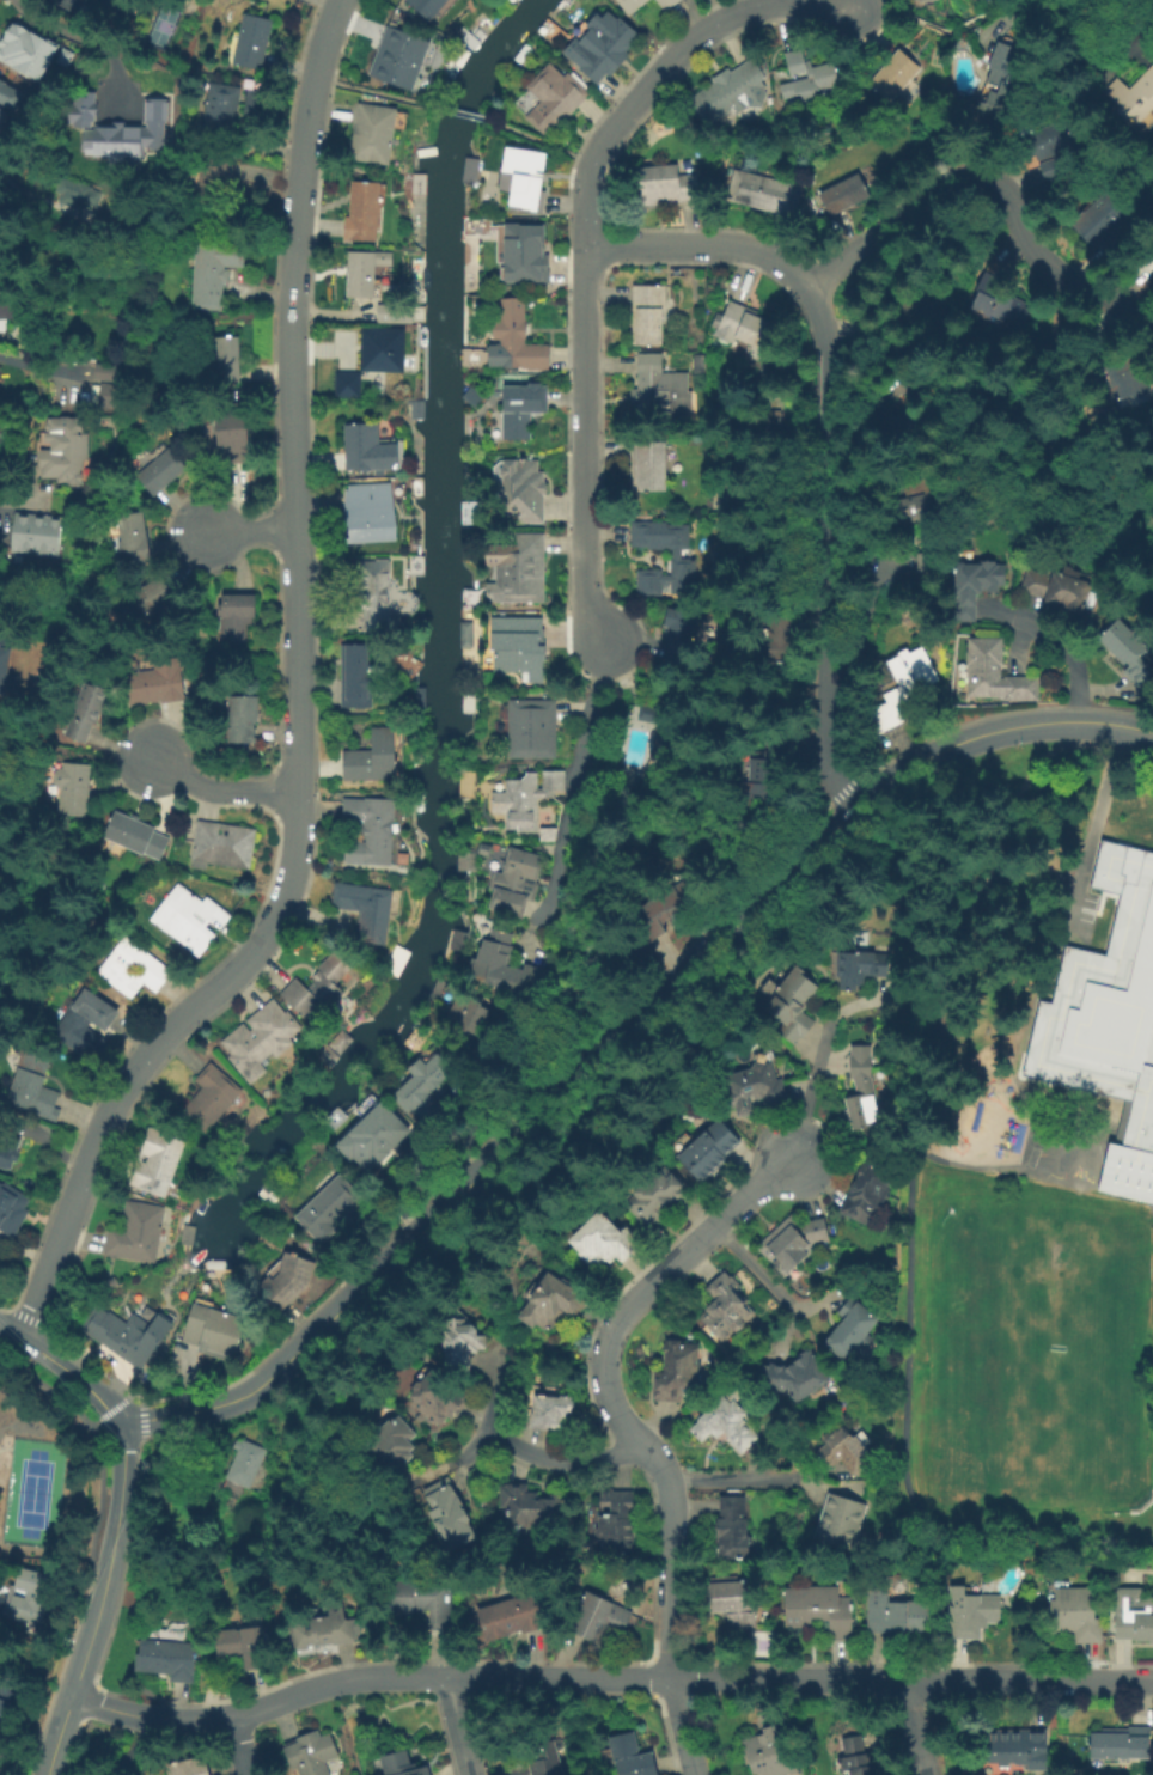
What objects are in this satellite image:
building: (514, 0)
building: (914, 0)
building: (69, 1)
building: (77, 1)
building: (83, 1)
building: (922, 1)
building: (666, 2)
building: (634, 5)
building: (431, 8)
building: (550, 29)
road: (66, 33)
building: (251, 39)
building: (17, 41)
building: (600, 43)
building: (399, 56)
building: (794, 61)
building: (895, 78)
building: (996, 84)
building: (1, 86)
building: (813, 86)
road: (372, 92)
building: (732, 93)
building: (1134, 96)
building: (555, 97)
building: (222, 106)
road: (460, 114)
building: (116, 128)
building: (372, 135)
road: (538, 142)
building: (1050, 147)
road: (981, 177)
building: (527, 183)
building: (666, 187)
building: (214, 191)
building: (77, 194)
building: (765, 194)
building: (847, 194)
building: (362, 213)
building: (1102, 220)
road: (584, 228)
road: (700, 245)
building: (525, 256)
building: (215, 272)
building: (367, 274)
building: (994, 304)
building: (8, 307)
building: (648, 316)
building: (746, 325)
building: (518, 337)
building: (7, 352)
building: (383, 353)
building: (224, 361)
building: (104, 371)
building: (1122, 379)
building: (347, 385)
building: (660, 390)
building: (105, 394)
building: (472, 395)
building: (523, 411)
building: (899, 413)
building: (233, 439)
building: (63, 449)
building: (368, 450)
building: (651, 465)
building: (165, 472)
road: (823, 484)
building: (419, 487)
building: (524, 489)
building: (368, 511)
building: (917, 511)
road: (251, 531)
building: (39, 536)
building: (660, 536)
building: (135, 541)
building: (414, 561)
building: (517, 567)
building: (685, 578)
building: (651, 584)
building: (975, 587)
building: (1055, 587)
building: (374, 594)
building: (148, 596)
building: (468, 598)
building: (236, 617)
building: (679, 635)
building: (466, 638)
building: (781, 639)
road: (1060, 641)
building: (519, 651)
building: (1129, 653)
building: (10, 659)
building: (994, 673)
building: (359, 676)
building: (158, 682)
building: (899, 690)
building: (421, 697)
building: (469, 702)
road: (299, 709)
building: (85, 712)
building: (645, 713)
building: (239, 718)
road: (1116, 722)
building: (532, 731)
building: (795, 742)
road: (1109, 749)
road: (824, 751)
building: (373, 760)
road: (573, 776)
building: (556, 783)
building: (759, 785)
road: (221, 786)
building: (72, 791)
building: (518, 804)
road: (1094, 829)
building: (372, 832)
building: (134, 840)
building: (224, 848)
building: (465, 864)
building: (514, 886)
building: (661, 905)
building: (365, 909)
building: (190, 921)
building: (508, 968)
building: (134, 969)
building: (861, 969)
building: (317, 988)
building: (788, 1004)
building: (466, 1014)
building: (86, 1024)
building: (1108, 1027)
building: (260, 1038)
road: (591, 1062)
road: (810, 1079)
building: (35, 1086)
building: (754, 1087)
building: (862, 1090)
building: (423, 1091)
building: (212, 1099)
building: (372, 1139)
building: (709, 1149)
road: (902, 1149)
building: (7, 1155)
building: (158, 1160)
building: (866, 1197)
building: (658, 1198)
building: (327, 1212)
building: (12, 1213)
road: (905, 1213)
building: (136, 1236)
building: (604, 1242)
building: (792, 1245)
road: (756, 1268)
building: (286, 1283)
building: (553, 1303)
building: (726, 1310)
building: (850, 1329)
building: (214, 1331)
building: (129, 1336)
building: (459, 1344)
park: (1033, 1367)
building: (678, 1374)
building: (795, 1378)
building: (437, 1401)
building: (551, 1410)
building: (727, 1426)
road: (629, 1432)
building: (392, 1445)
building: (843, 1452)
road: (555, 1462)
building: (244, 1464)
road: (728, 1480)
park: (32, 1494)
building: (617, 1506)
building: (529, 1507)
building: (450, 1517)
building: (841, 1524)
road: (112, 1527)
building: (733, 1530)
building: (617, 1537)
building: (32, 1596)
building: (423, 1599)
building: (734, 1605)
building: (820, 1612)
building: (971, 1612)
building: (1133, 1614)
building: (896, 1615)
building: (1075, 1615)
building: (602, 1617)
building: (511, 1620)
building: (322, 1633)
building: (246, 1649)
building: (169, 1660)
road: (605, 1676)
building: (4, 1692)
road: (462, 1725)
road: (917, 1727)
road: (240, 1744)
building: (1120, 1744)
building: (1013, 1745)
building: (774, 1752)
building: (312, 1753)
building: (1, 1755)
building: (630, 1756)
building: (855, 1757)
building: (542, 1763)
building: (402, 1764)
building: (187, 1768)

